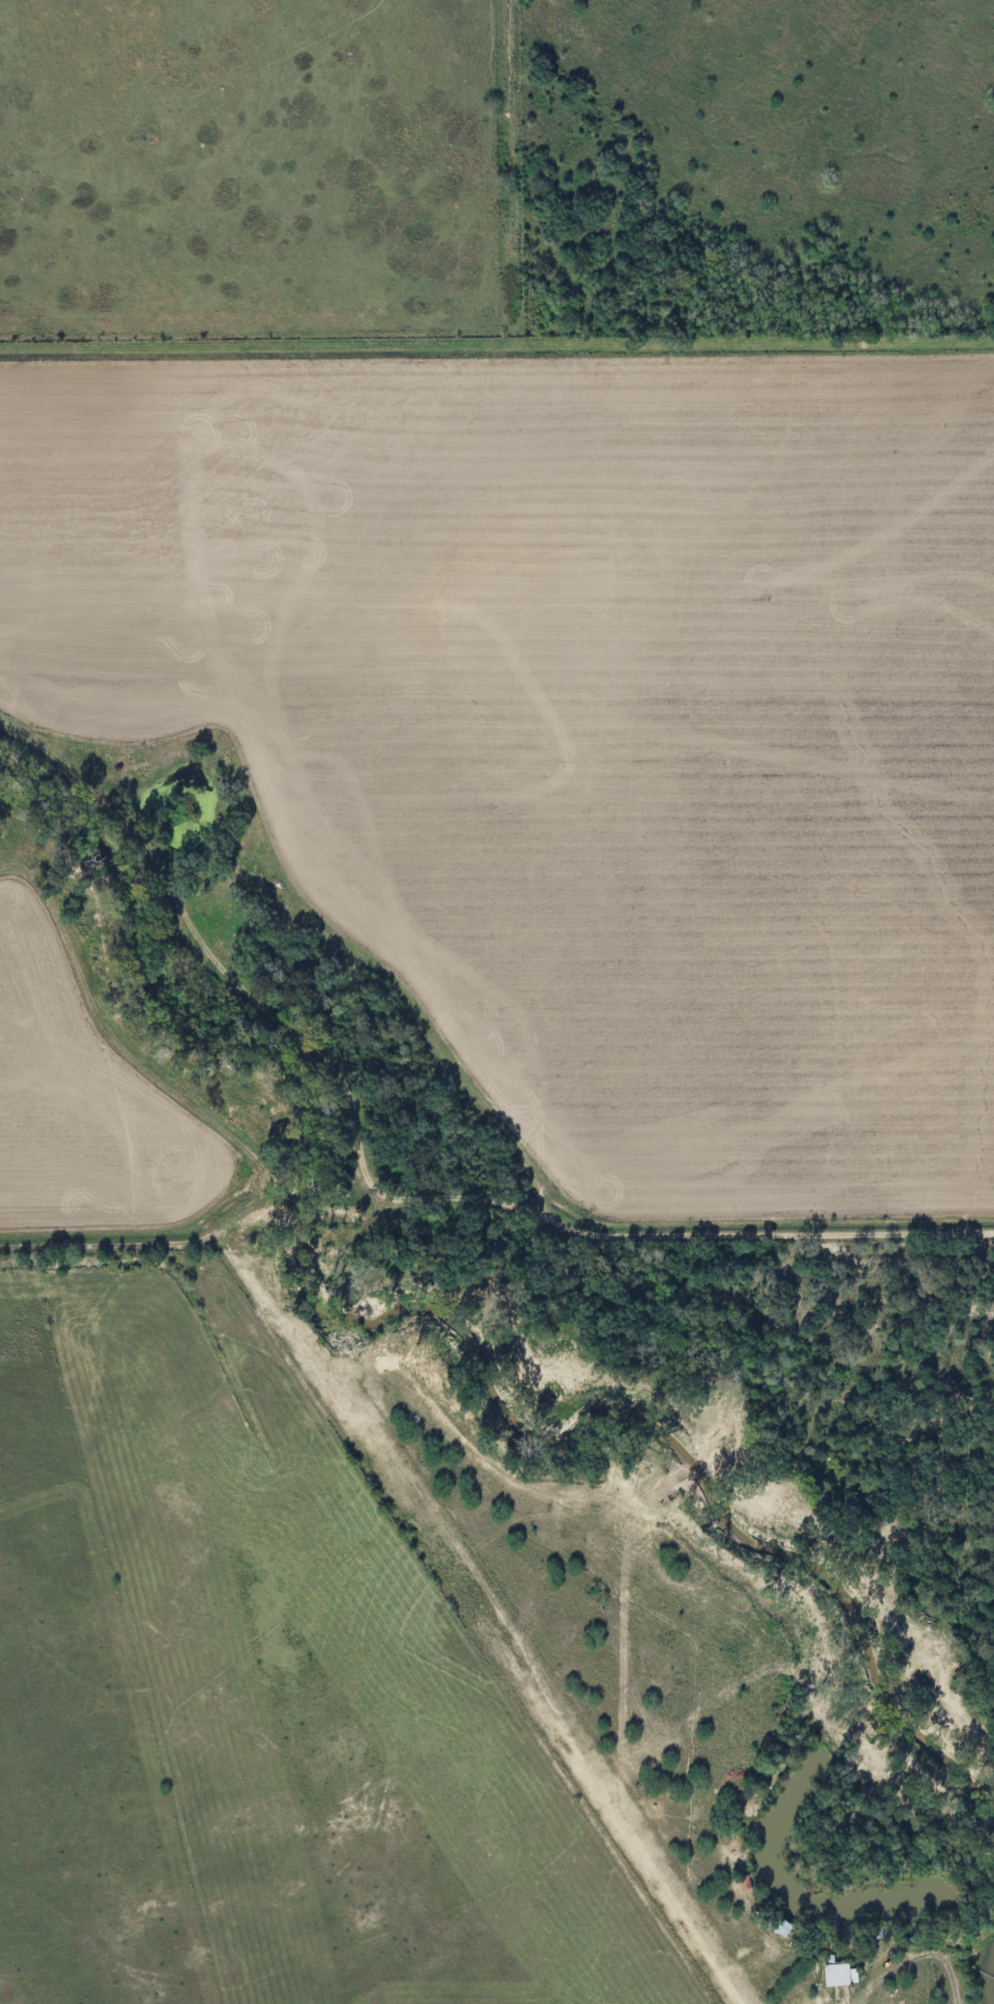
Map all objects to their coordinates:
building: (836, 1975)

